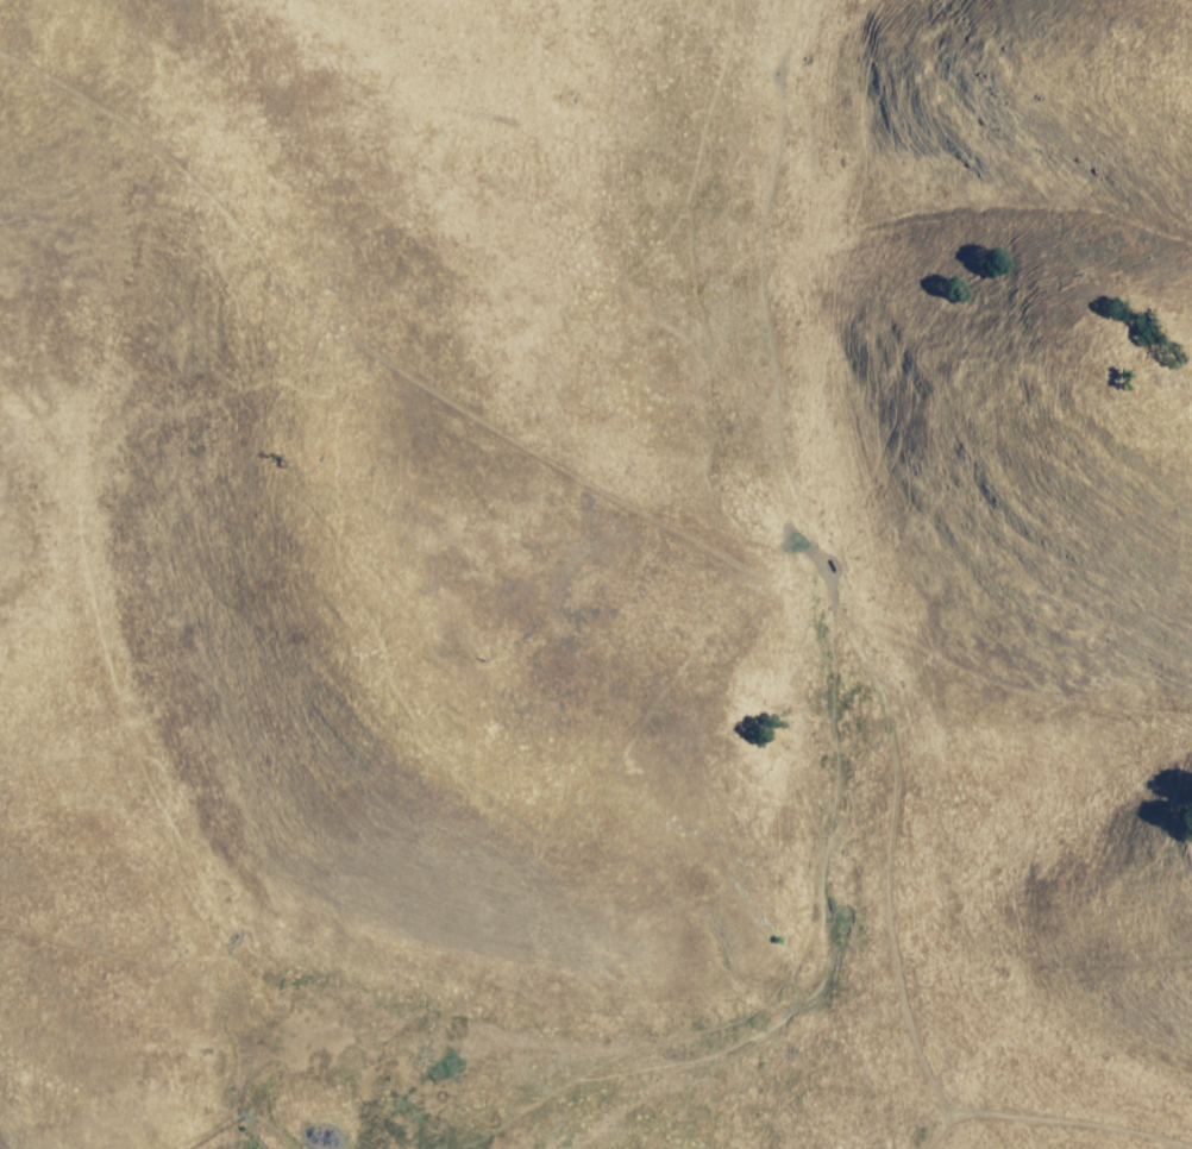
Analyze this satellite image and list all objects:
road: (878, 560)
road: (1029, 1122)

